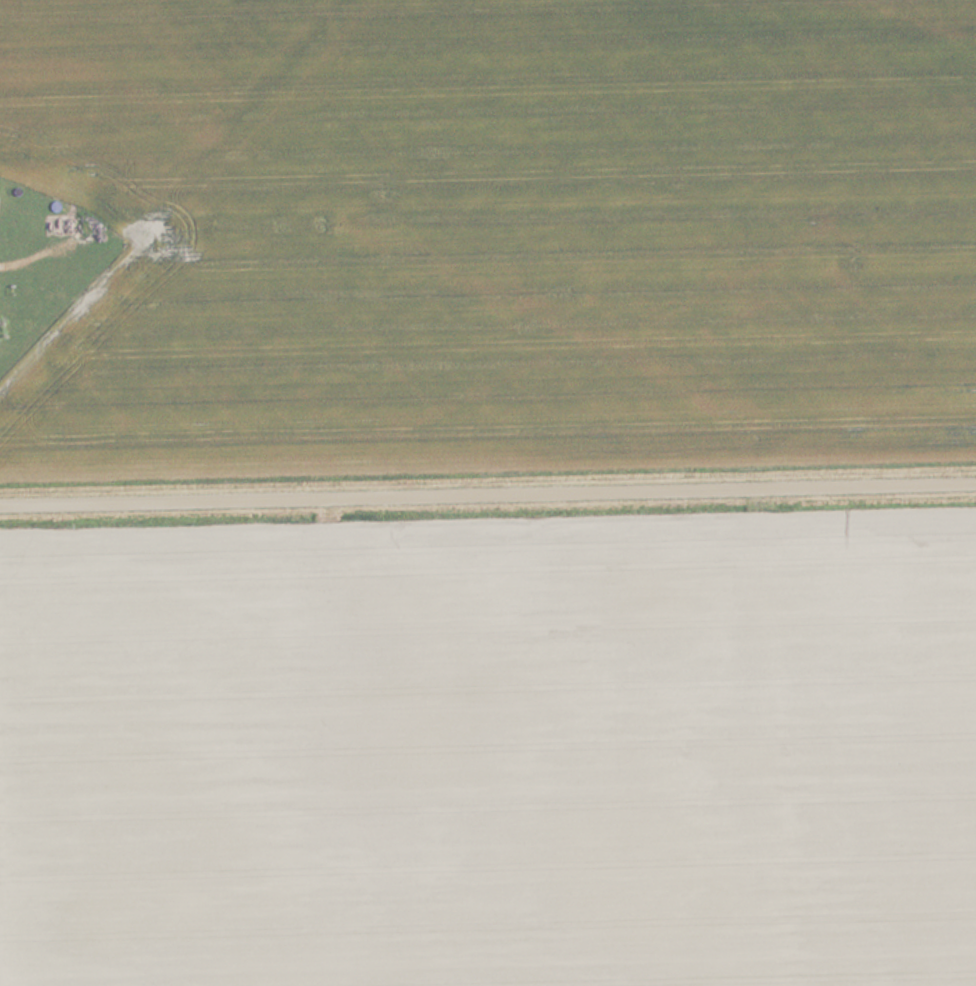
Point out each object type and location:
road: (488, 490)

